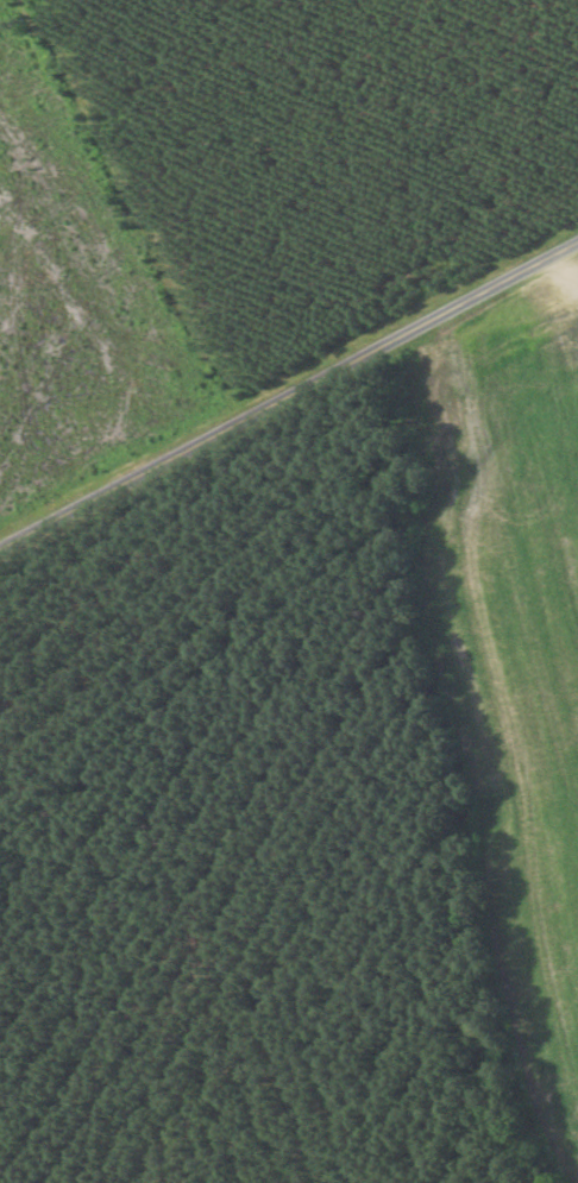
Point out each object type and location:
road: (288, 392)

